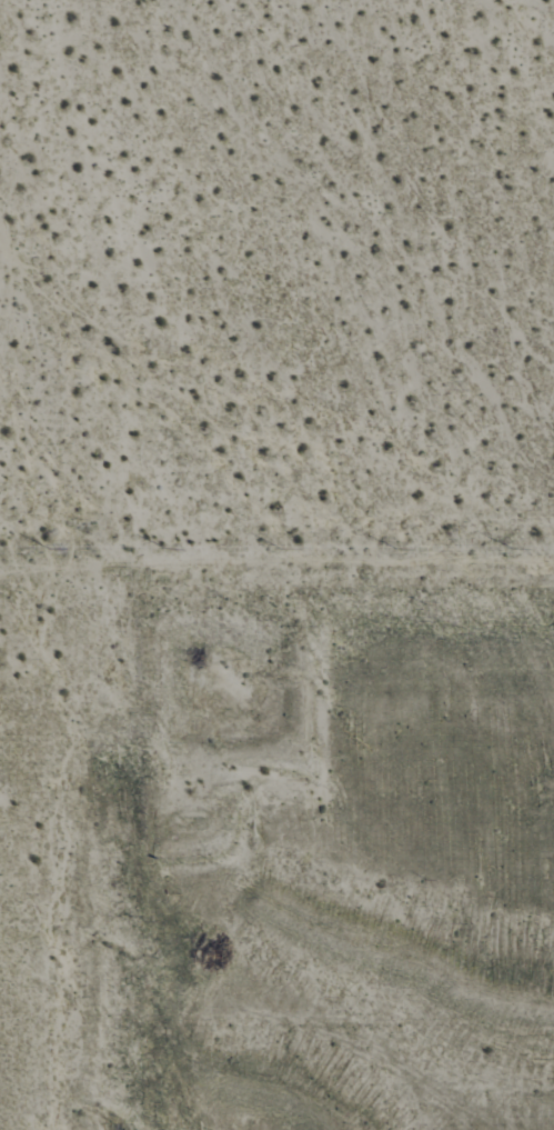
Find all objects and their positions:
road: (276, 578)

